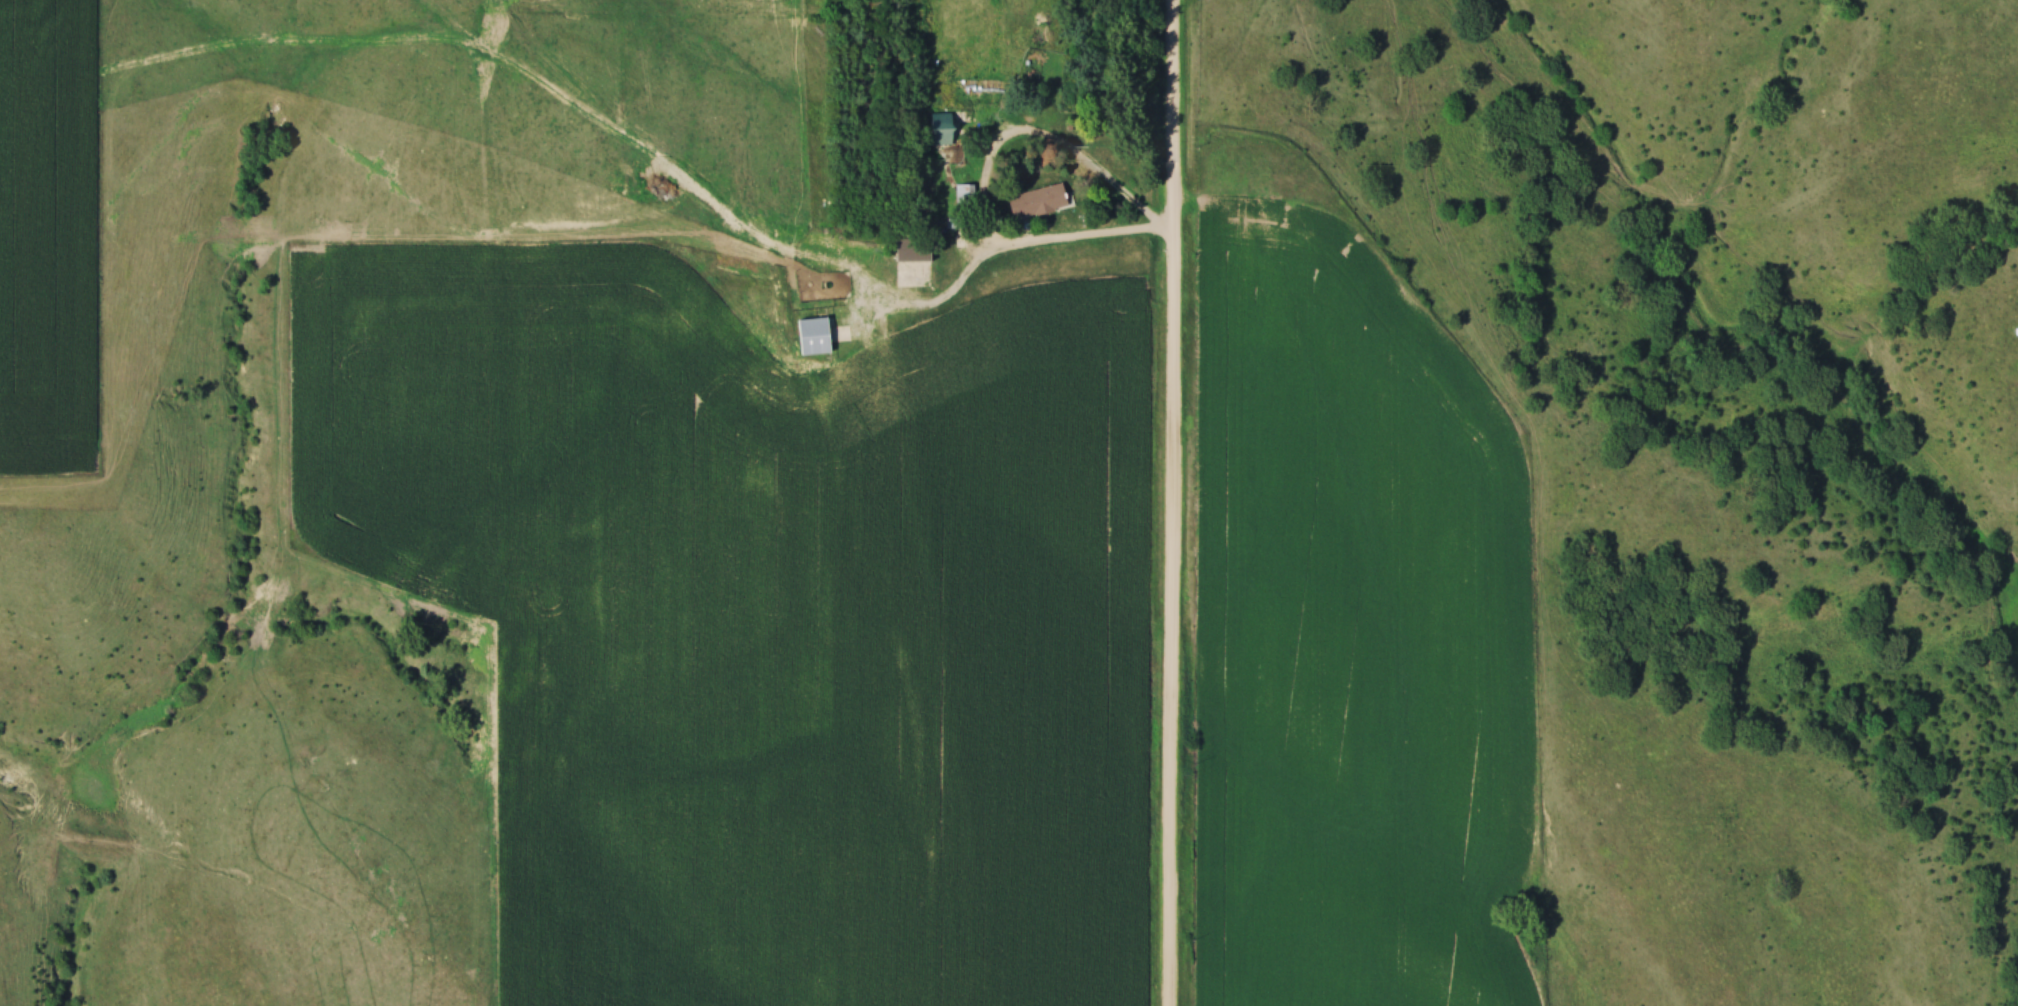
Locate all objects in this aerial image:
building: (965, 14)
building: (963, 81)
building: (944, 127)
building: (1039, 200)
road: (1171, 233)
road: (1046, 244)
building: (817, 335)
road: (1174, 503)

